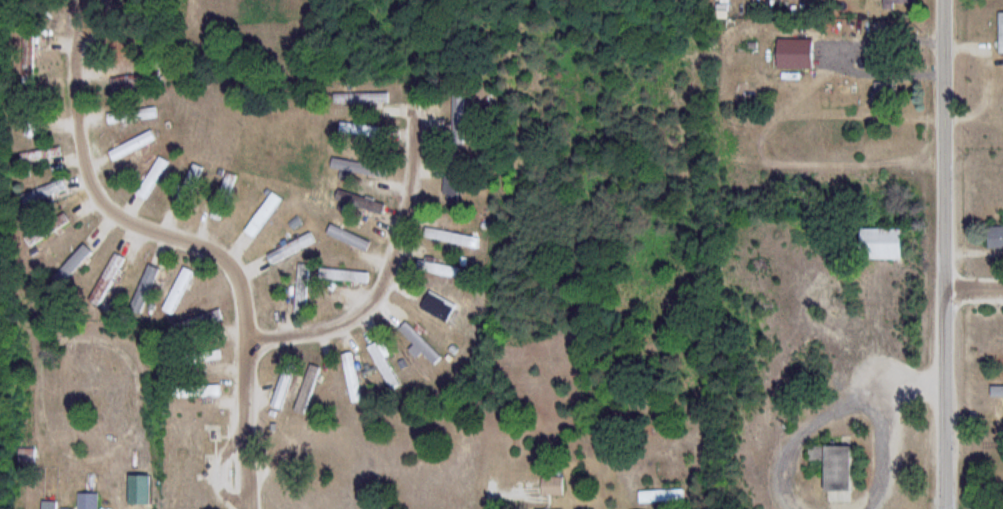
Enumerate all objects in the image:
building: (899, 2)
building: (366, 99)
building: (35, 118)
building: (119, 122)
building: (45, 154)
building: (150, 185)
building: (192, 188)
building: (49, 192)
building: (227, 196)
building: (260, 217)
road: (163, 233)
building: (45, 234)
building: (998, 236)
building: (354, 238)
building: (890, 243)
building: (295, 249)
road: (940, 254)
building: (78, 264)
building: (114, 273)
building: (345, 278)
road: (385, 280)
building: (183, 288)
building: (149, 289)
building: (306, 289)
road: (971, 294)
building: (204, 321)
building: (422, 344)
building: (388, 367)
building: (356, 377)
building: (200, 390)
building: (998, 390)
road: (246, 431)
building: (848, 468)
building: (556, 486)
building: (667, 497)
building: (92, 501)
building: (54, 505)

